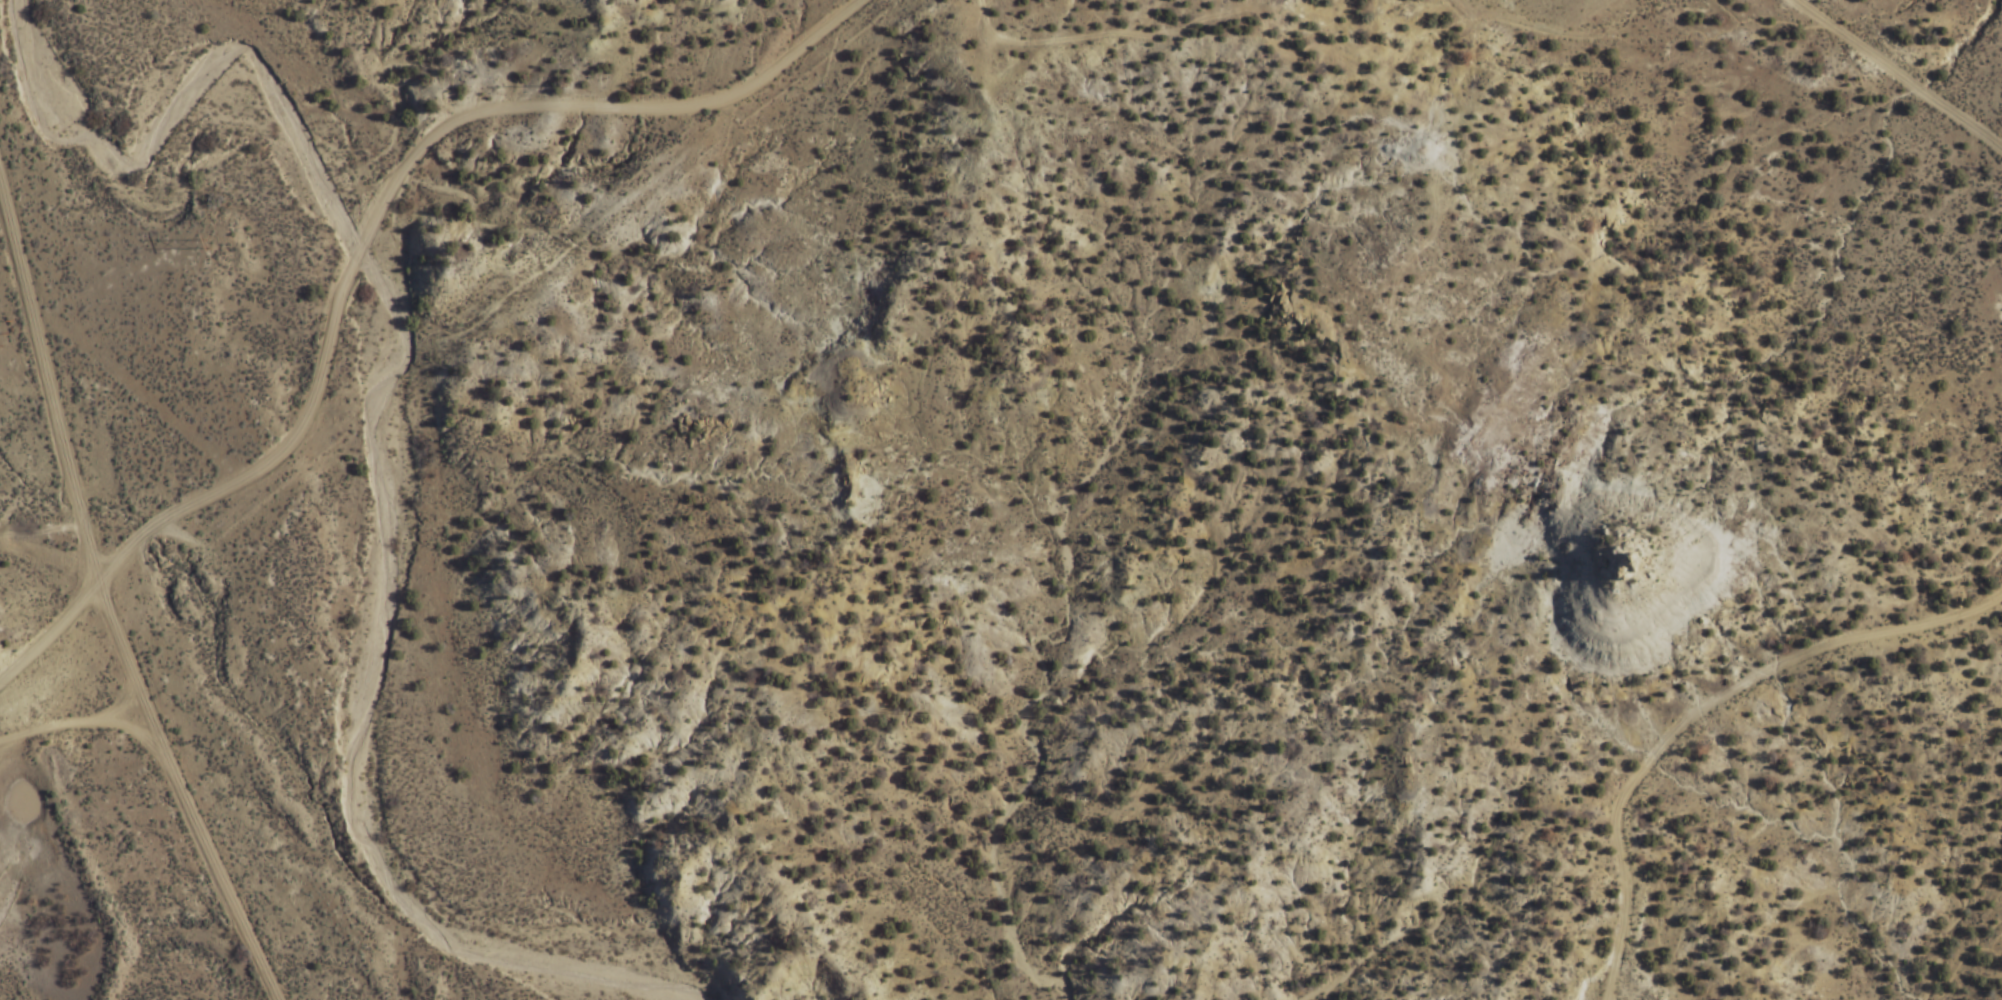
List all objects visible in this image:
road: (421, 337)
river: (400, 466)
road: (41, 555)
road: (94, 605)
road: (68, 724)

